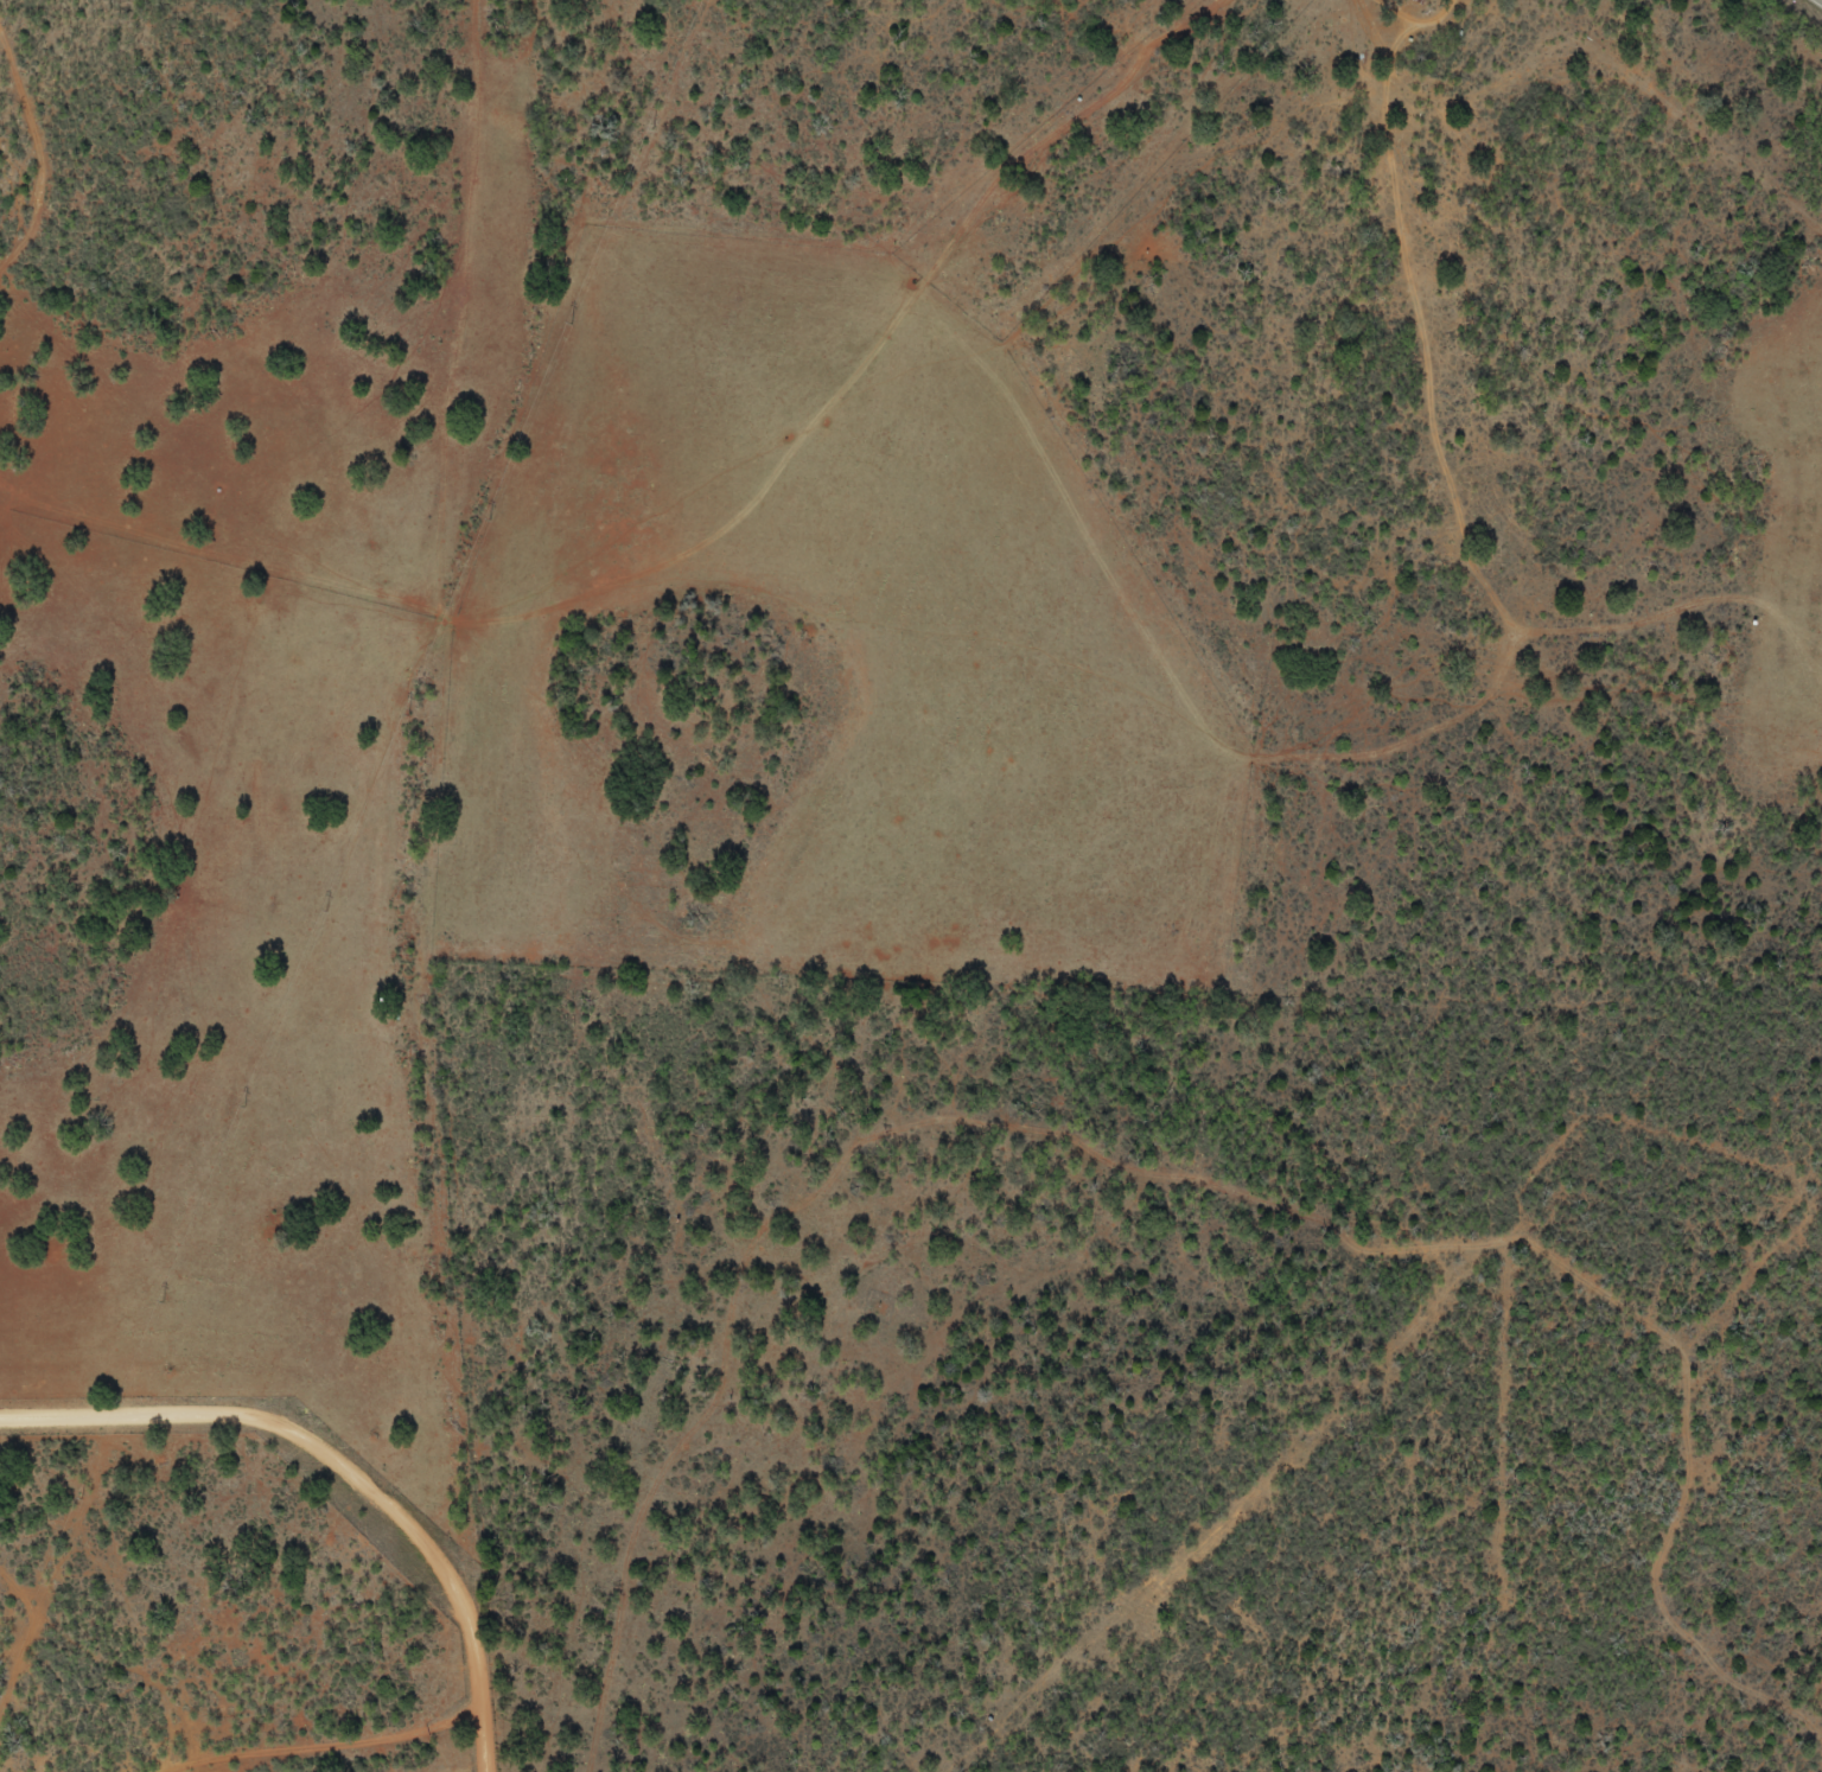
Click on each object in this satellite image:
road: (356, 1462)
road: (301, 1742)

